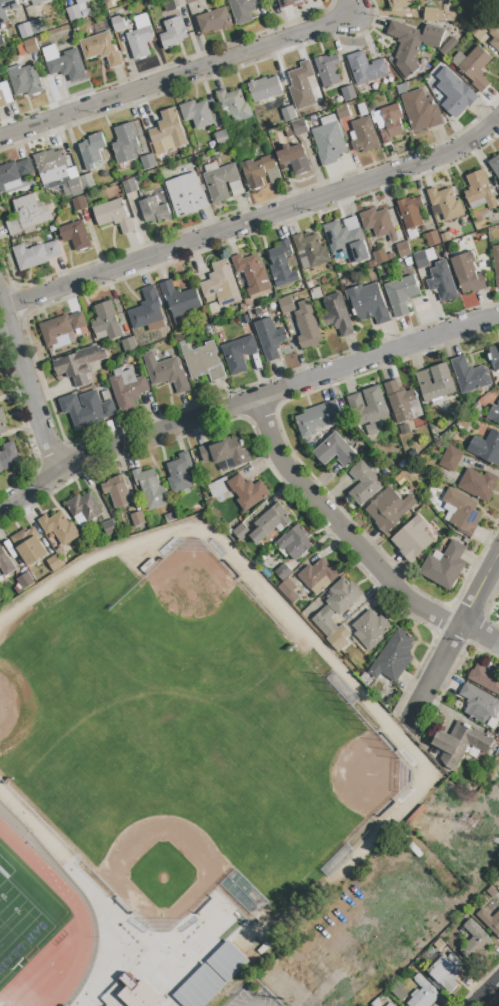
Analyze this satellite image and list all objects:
building: (36, 1)
building: (80, 1)
building: (106, 1)
building: (190, 1)
building: (479, 1)
building: (289, 3)
building: (400, 4)
building: (172, 5)
building: (6, 9)
building: (242, 10)
building: (78, 11)
building: (432, 15)
building: (214, 21)
building: (118, 24)
building: (37, 26)
building: (24, 31)
building: (477, 32)
building: (172, 33)
building: (495, 36)
building: (140, 37)
building: (1, 41)
building: (412, 44)
building: (30, 46)
building: (448, 47)
building: (101, 49)
building: (64, 63)
building: (473, 67)
building: (366, 69)
building: (327, 70)
road: (185, 75)
building: (25, 81)
building: (302, 86)
building: (264, 89)
building: (348, 93)
building: (454, 93)
building: (5, 94)
building: (235, 105)
building: (342, 111)
building: (421, 111)
building: (197, 114)
building: (288, 114)
building: (391, 123)
building: (297, 128)
building: (168, 131)
building: (364, 136)
building: (221, 137)
building: (329, 141)
building: (126, 143)
building: (92, 150)
building: (295, 158)
building: (147, 161)
building: (51, 166)
building: (495, 166)
building: (257, 171)
building: (14, 172)
building: (86, 181)
building: (222, 182)
building: (74, 186)
building: (129, 186)
building: (480, 192)
building: (186, 195)
building: (445, 203)
building: (79, 204)
building: (154, 211)
building: (30, 212)
building: (410, 212)
building: (114, 215)
road: (255, 219)
building: (378, 224)
building: (76, 235)
building: (445, 237)
building: (432, 239)
building: (347, 240)
building: (311, 249)
building: (403, 250)
building: (35, 255)
building: (382, 257)
building: (421, 260)
building: (496, 263)
building: (282, 265)
building: (252, 274)
building: (468, 274)
building: (442, 282)
building: (220, 285)
building: (317, 293)
building: (401, 295)
building: (179, 298)
building: (369, 303)
building: (286, 305)
building: (146, 309)
building: (259, 312)
building: (337, 315)
building: (245, 316)
building: (106, 321)
building: (307, 325)
building: (61, 328)
building: (270, 338)
building: (129, 345)
building: (238, 354)
building: (495, 357)
building: (203, 362)
building: (79, 364)
building: (165, 372)
building: (470, 376)
building: (436, 383)
road: (27, 386)
building: (127, 389)
road: (265, 395)
building: (375, 402)
building: (402, 403)
building: (87, 409)
building: (494, 414)
building: (316, 418)
building: (2, 422)
building: (405, 430)
building: (369, 431)
building: (487, 448)
building: (227, 451)
building: (335, 451)
building: (8, 457)
building: (451, 459)
building: (179, 474)
building: (365, 484)
building: (478, 485)
building: (151, 488)
building: (216, 489)
building: (117, 491)
building: (247, 492)
road: (20, 499)
building: (84, 507)
building: (389, 510)
building: (461, 511)
building: (170, 518)
building: (138, 519)
building: (270, 523)
building: (59, 528)
building: (109, 528)
building: (241, 532)
building: (413, 539)
building: (295, 543)
road: (354, 544)
building: (29, 545)
building: (5, 564)
building: (54, 564)
building: (445, 566)
building: (283, 572)
building: (319, 574)
building: (23, 583)
road: (479, 588)
building: (289, 591)
building: (343, 596)
park: (192, 609)
building: (325, 621)
building: (370, 629)
building: (339, 639)
building: (393, 657)
road: (436, 670)
building: (486, 678)
building: (479, 704)
park: (13, 708)
park: (154, 732)
building: (461, 743)
park: (333, 780)
power tower: (477, 823)
park: (160, 869)
building: (491, 891)
track: (77, 913)
building: (490, 921)
park: (17, 927)
building: (475, 942)
building: (227, 962)
building: (445, 973)
building: (199, 988)
building: (398, 991)
building: (136, 992)
building: (423, 994)
road: (488, 994)
parking lot: (254, 998)
power tower: (295, 1000)
road: (253, 1005)
road: (254, 1005)
building: (390, 1005)

